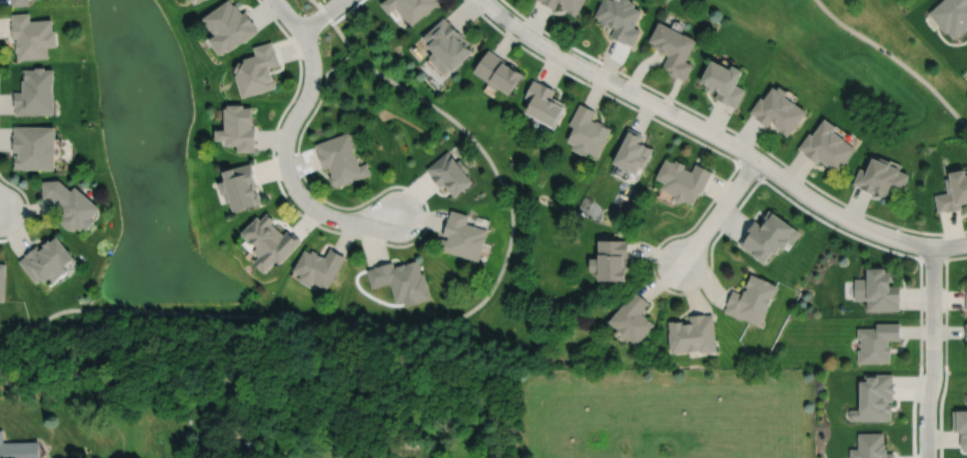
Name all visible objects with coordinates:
building: (17, 2)
building: (564, 4)
building: (407, 7)
building: (949, 15)
road: (320, 16)
building: (618, 18)
building: (228, 25)
building: (30, 35)
building: (444, 44)
building: (672, 49)
road: (895, 58)
park: (864, 59)
building: (256, 70)
building: (495, 71)
building: (722, 82)
building: (34, 92)
building: (542, 104)
building: (776, 110)
building: (235, 127)
road: (731, 129)
road: (705, 130)
building: (585, 131)
road: (285, 143)
building: (33, 146)
building: (825, 146)
building: (631, 152)
building: (339, 159)
road: (748, 169)
building: (449, 173)
building: (880, 178)
building: (682, 180)
building: (237, 187)
building: (953, 192)
building: (70, 204)
road: (27, 208)
road: (719, 209)
building: (462, 236)
building: (766, 236)
building: (267, 241)
road: (401, 244)
road: (950, 244)
road: (932, 257)
building: (609, 260)
building: (46, 261)
building: (317, 267)
building: (2, 281)
building: (401, 281)
road: (693, 288)
building: (880, 291)
building: (965, 299)
building: (749, 300)
building: (630, 319)
road: (437, 322)
building: (965, 327)
building: (690, 335)
building: (875, 342)
road: (945, 346)
road: (933, 351)
building: (873, 399)
building: (960, 423)
building: (871, 445)
building: (229, 446)
building: (18, 448)
building: (414, 457)

